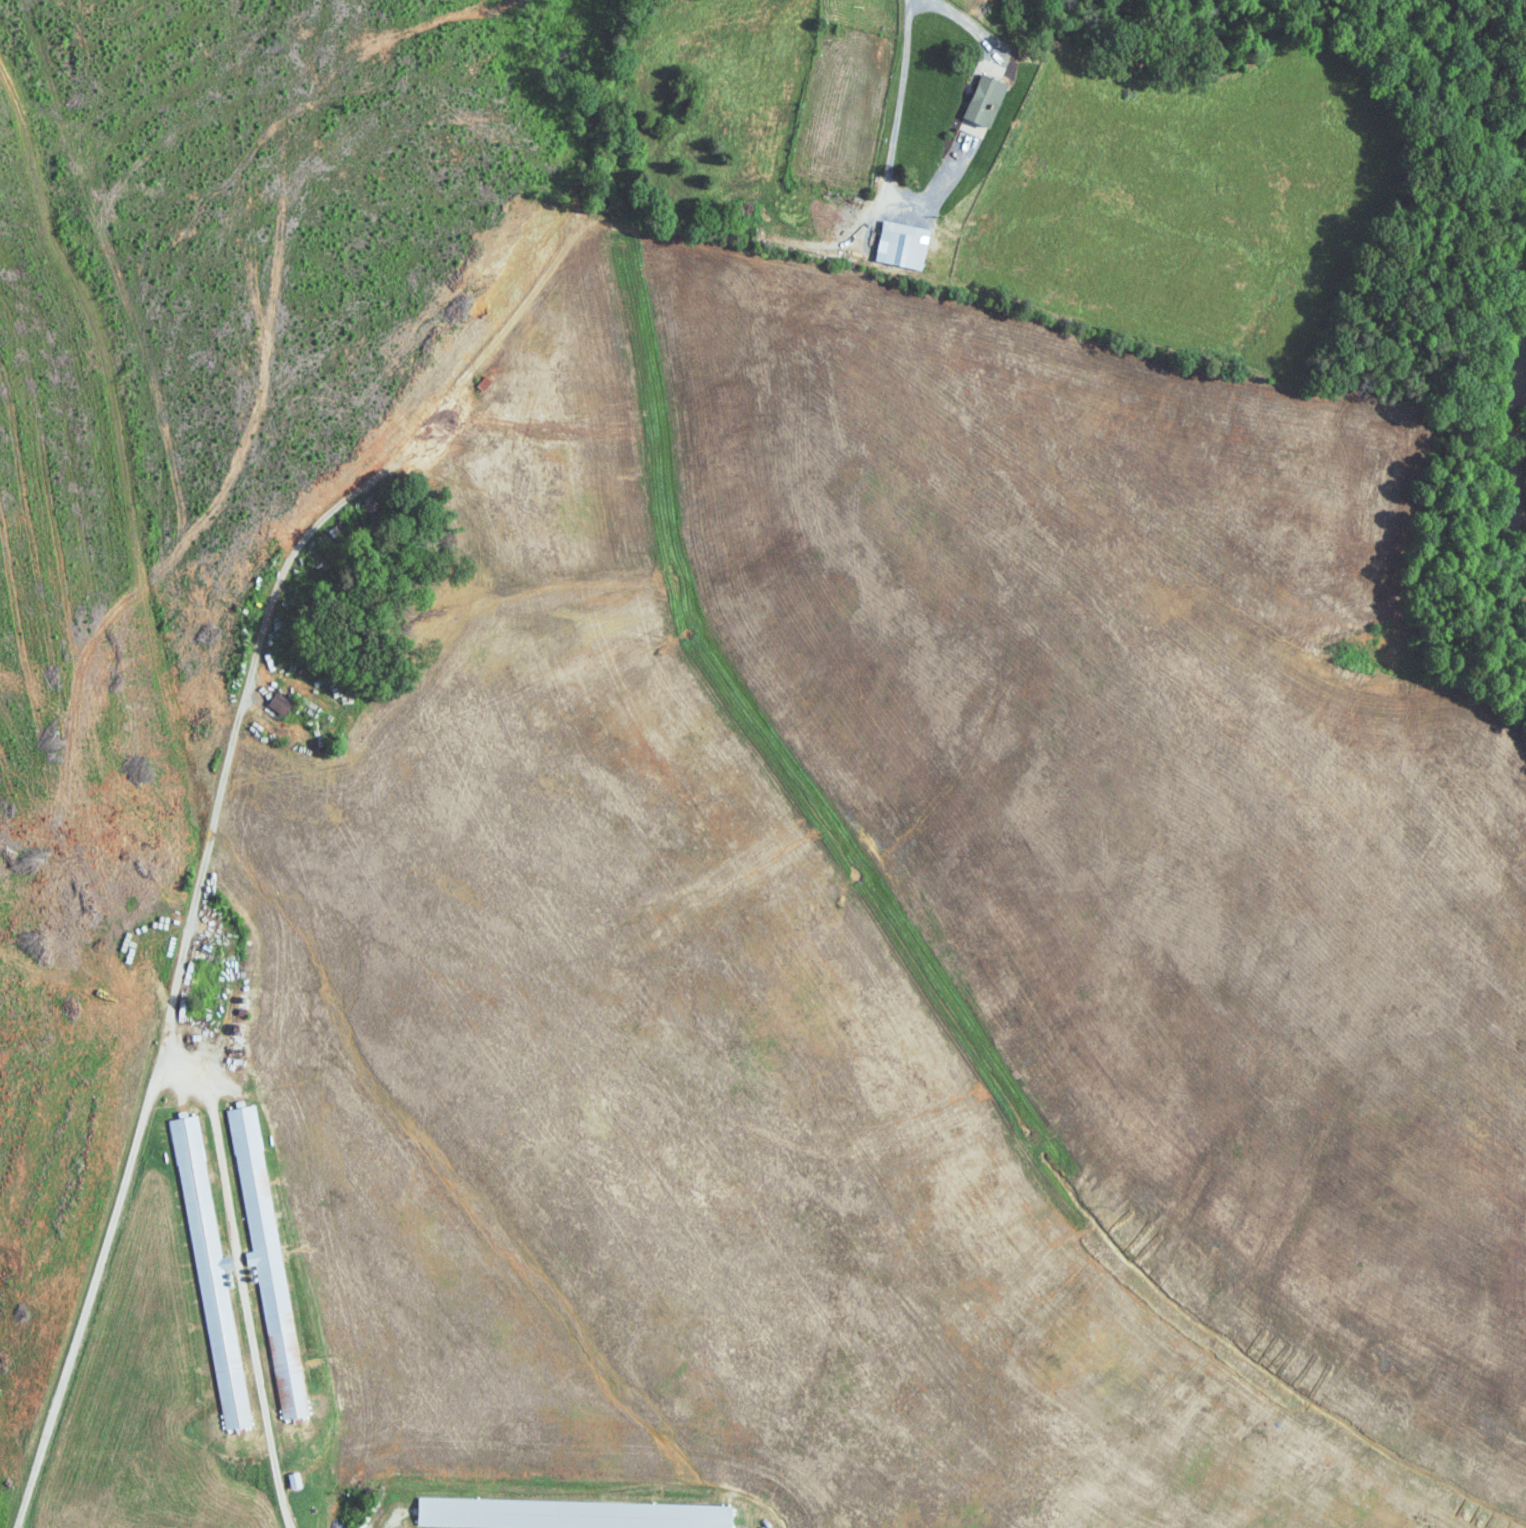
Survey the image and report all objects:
road: (972, 25)
building: (989, 101)
building: (905, 245)
river: (1517, 447)
building: (282, 704)
road: (207, 853)
building: (269, 1255)
building: (213, 1271)
road: (241, 1280)
building: (297, 1480)

